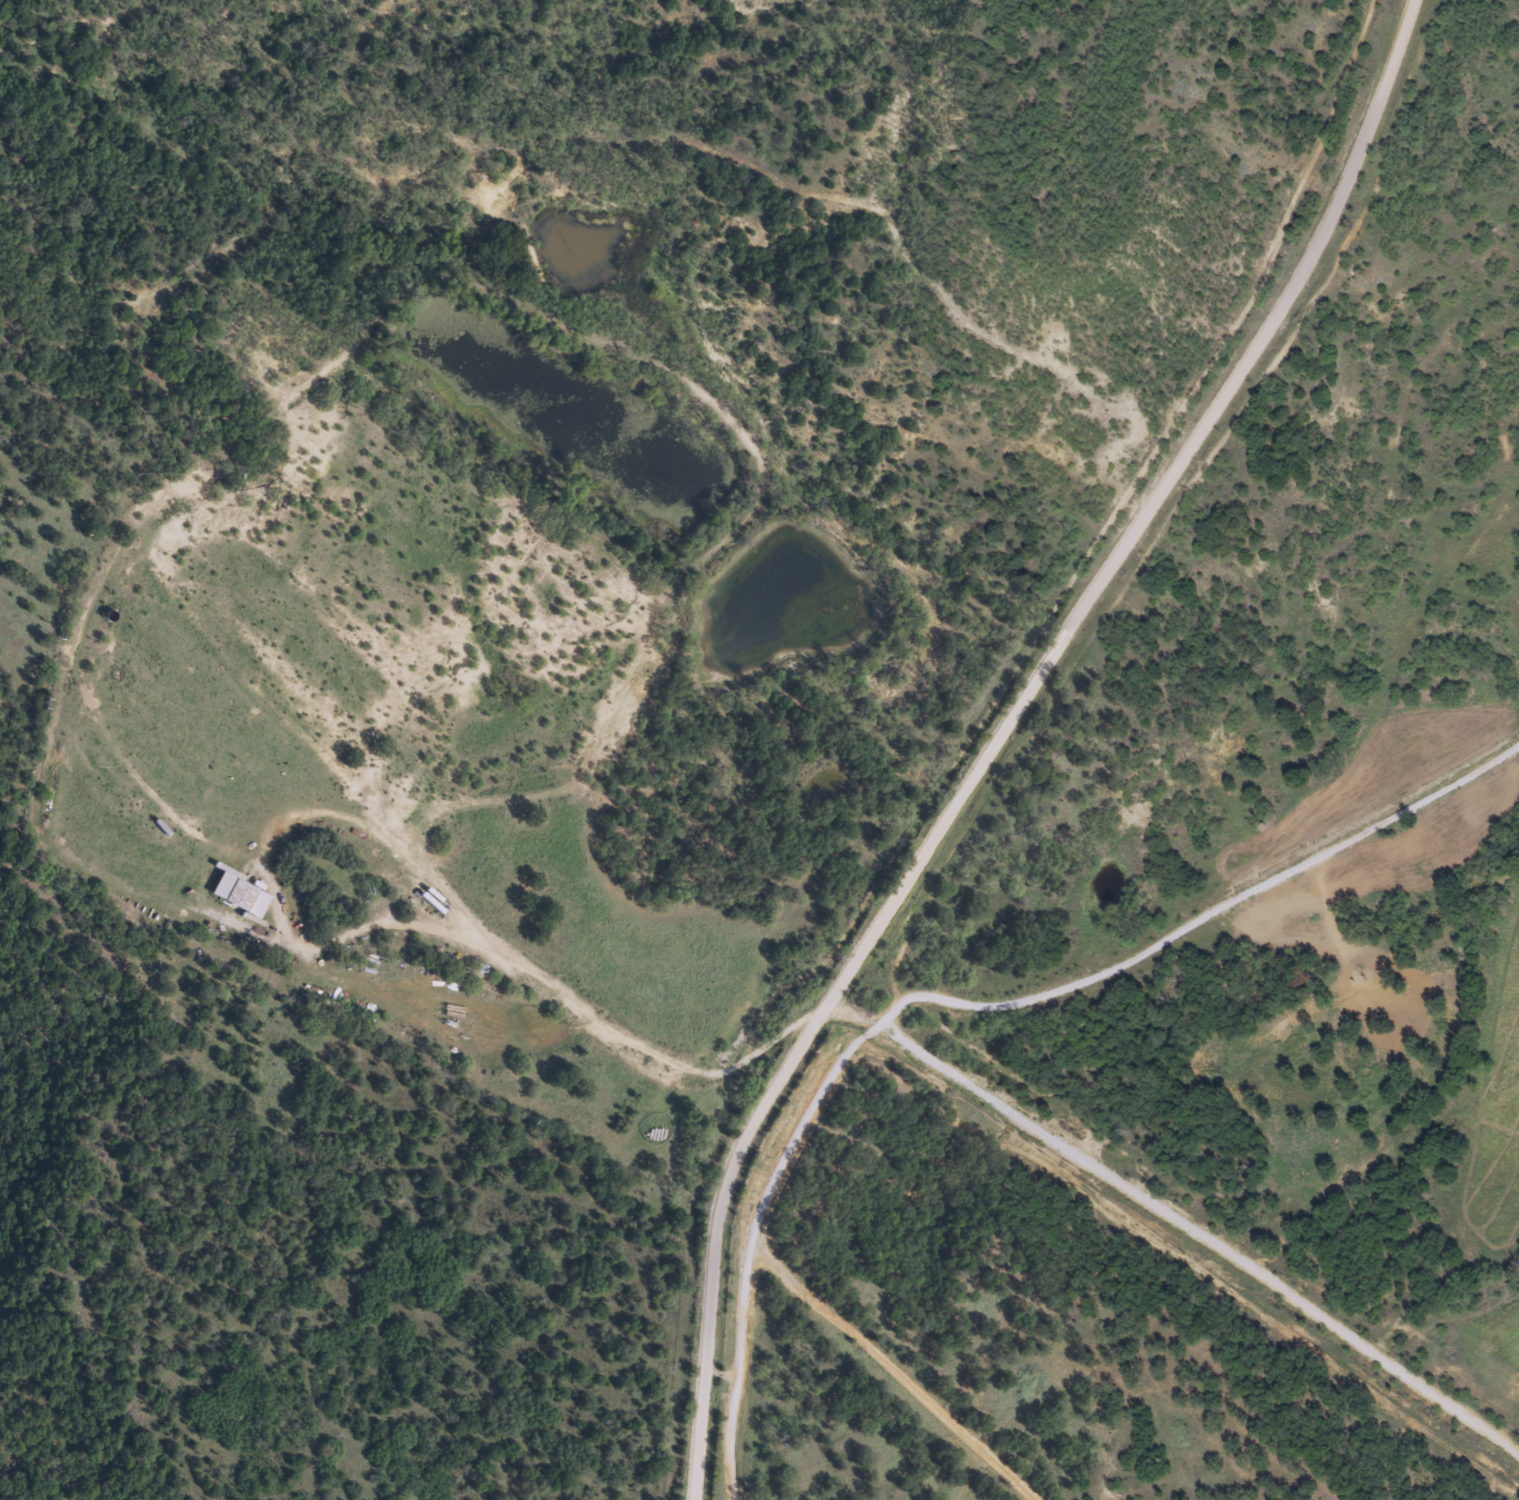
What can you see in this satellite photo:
road: (1007, 734)
road: (396, 848)
building: (237, 892)
road: (408, 894)
road: (1184, 927)
road: (538, 971)
road: (1200, 1240)
road: (1498, 1269)
road: (1508, 1274)
road: (884, 1361)
road: (747, 1422)

